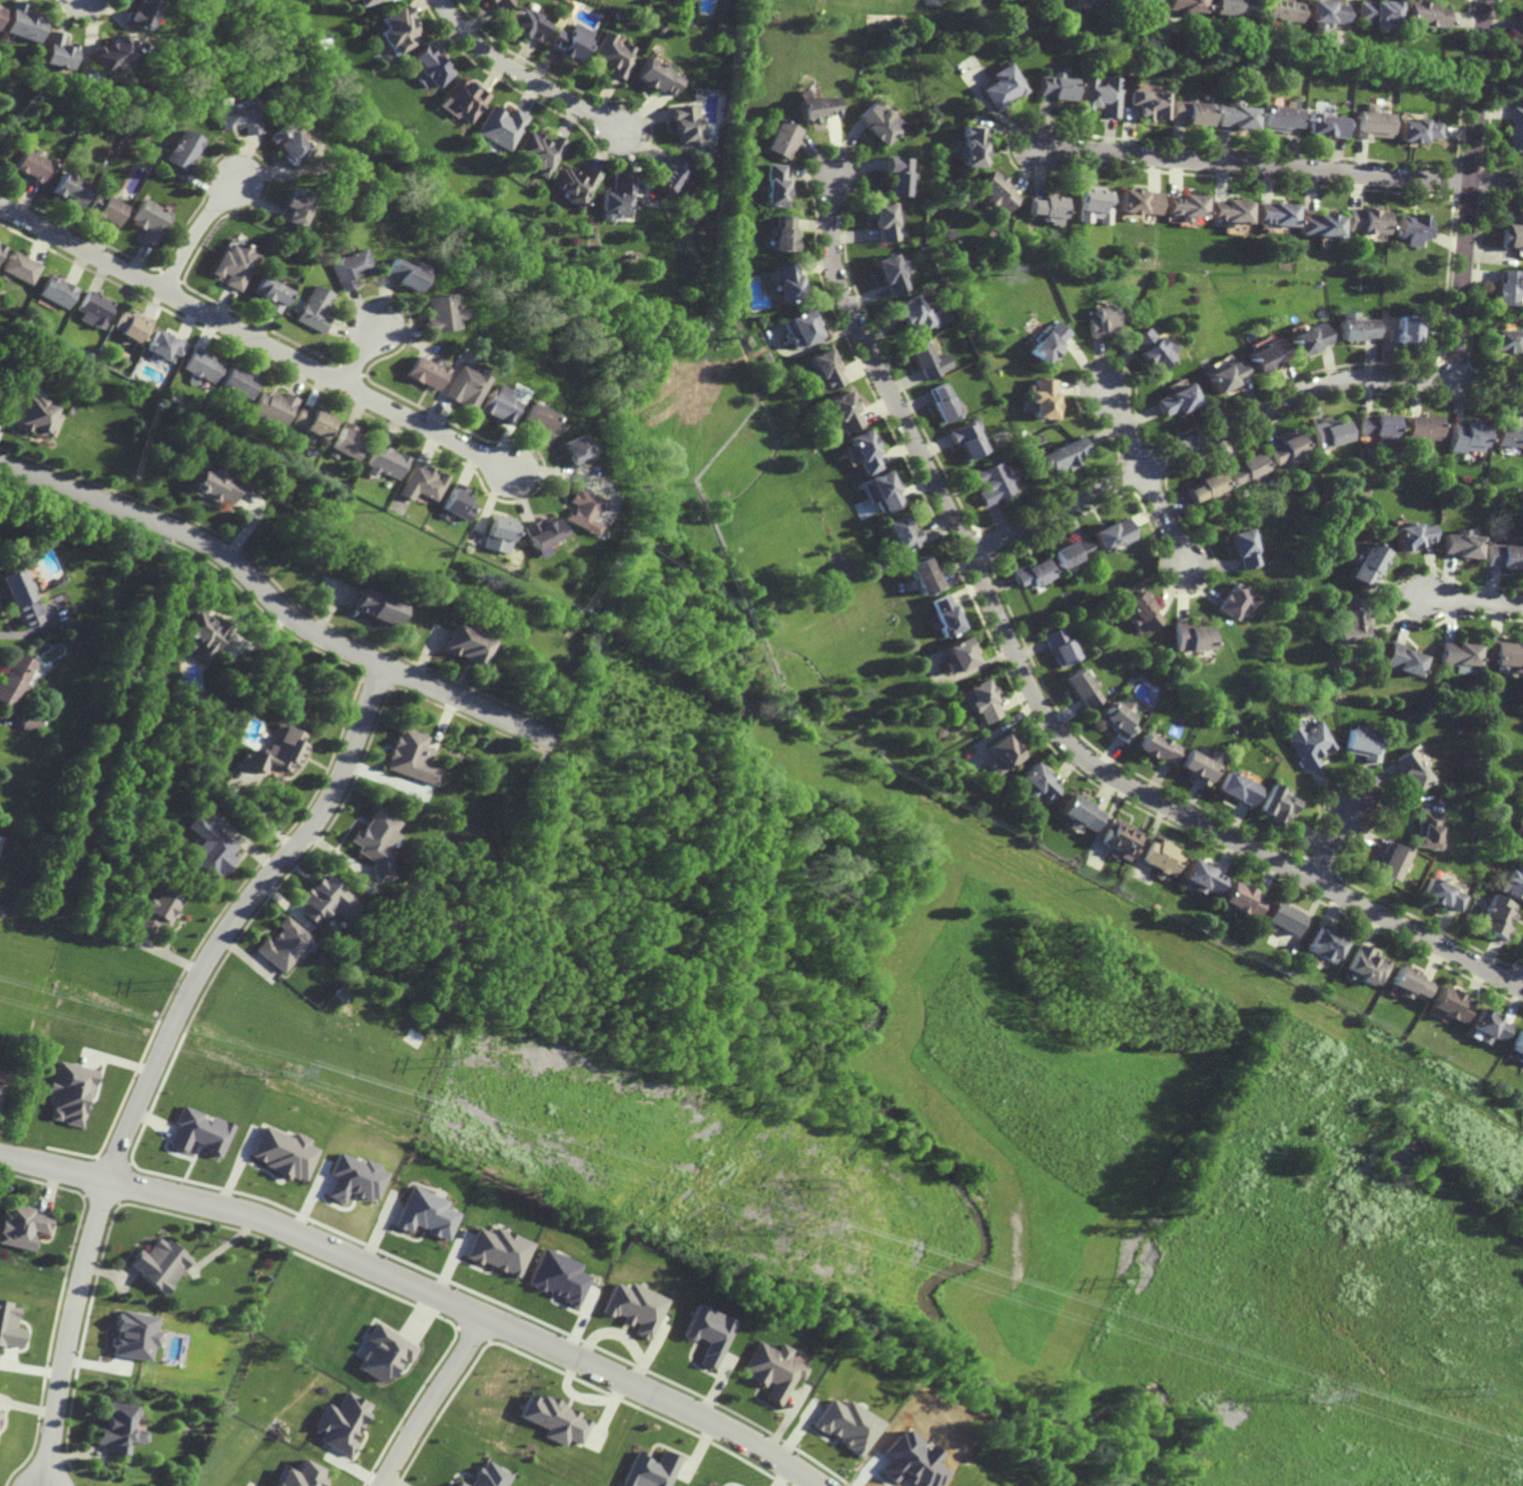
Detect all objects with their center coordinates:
building: (348, 0)
building: (486, 0)
building: (366, 1)
building: (1092, 1)
building: (1136, 2)
building: (498, 3)
building: (1183, 5)
building: (1230, 8)
building: (0, 9)
building: (1279, 10)
building: (1376, 10)
building: (1324, 11)
building: (1422, 13)
building: (139, 14)
building: (617, 14)
building: (524, 22)
building: (21, 23)
building: (1519, 23)
building: (398, 28)
building: (660, 28)
building: (565, 43)
building: (56, 51)
building: (111, 53)
building: (611, 55)
building: (429, 66)
road: (520, 74)
building: (655, 76)
building: (1003, 85)
building: (1057, 85)
building: (1102, 94)
building: (463, 99)
building: (1149, 103)
building: (812, 105)
building: (1190, 111)
building: (237, 116)
building: (1234, 116)
building: (1278, 117)
building: (876, 121)
building: (685, 122)
building: (1371, 122)
building: (1325, 125)
building: (499, 126)
building: (1514, 128)
building: (1415, 130)
building: (779, 138)
building: (286, 144)
building: (971, 145)
building: (184, 150)
building: (538, 152)
building: (30, 166)
road: (1279, 166)
building: (670, 174)
building: (898, 175)
building: (573, 185)
building: (771, 185)
building: (69, 189)
road: (1467, 191)
building: (992, 194)
building: (1091, 198)
building: (614, 201)
building: (1134, 202)
building: (1181, 205)
building: (293, 207)
building: (105, 208)
building: (1046, 209)
building: (1226, 212)
building: (1271, 214)
building: (150, 220)
building: (884, 221)
building: (1363, 221)
building: (1317, 226)
building: (1408, 229)
road: (196, 230)
building: (780, 233)
building: (1510, 237)
building: (1, 247)
building: (19, 267)
building: (236, 267)
building: (347, 268)
building: (401, 274)
building: (889, 274)
building: (784, 283)
building: (1503, 289)
building: (56, 291)
building: (270, 294)
building: (315, 309)
building: (93, 310)
building: (437, 313)
building: (912, 315)
building: (1100, 322)
building: (134, 326)
building: (937, 327)
building: (1354, 328)
building: (799, 330)
building: (1405, 331)
road: (255, 337)
building: (1306, 340)
building: (1504, 342)
building: (1046, 343)
building: (165, 345)
building: (1147, 350)
road: (360, 357)
building: (1264, 357)
building: (927, 362)
building: (204, 365)
building: (822, 370)
building: (422, 372)
building: (1223, 376)
building: (240, 383)
building: (465, 386)
building: (1041, 400)
building: (1171, 402)
building: (497, 404)
building: (943, 404)
building: (275, 408)
building: (34, 414)
building: (841, 414)
building: (534, 418)
building: (312, 422)
road: (1234, 423)
building: (1379, 429)
road: (1121, 430)
building: (1422, 430)
building: (1329, 435)
building: (1507, 438)
building: (1466, 439)
building: (966, 441)
building: (348, 444)
building: (572, 449)
building: (1286, 451)
building: (860, 453)
building: (1060, 458)
building: (1420, 460)
building: (386, 461)
building: (1244, 471)
building: (420, 483)
building: (992, 485)
building: (214, 486)
building: (1204, 489)
building: (880, 495)
building: (456, 503)
building: (582, 510)
road: (1163, 518)
building: (1112, 531)
building: (498, 533)
building: (898, 534)
building: (542, 535)
building: (1409, 540)
building: (880, 548)
building: (1074, 549)
building: (1243, 549)
building: (1457, 549)
building: (1503, 556)
building: (1366, 565)
building: (1033, 569)
building: (925, 570)
building: (1236, 597)
building: (20, 598)
road: (1470, 599)
road: (274, 601)
building: (376, 606)
building: (1144, 606)
building: (946, 612)
building: (1351, 619)
building: (205, 634)
building: (1195, 634)
building: (465, 645)
building: (1062, 645)
building: (1502, 649)
building: (1455, 651)
building: (959, 652)
building: (1399, 657)
building: (14, 679)
building: (1085, 685)
building: (1298, 690)
building: (980, 698)
road: (1036, 699)
building: (1120, 720)
building: (29, 722)
building: (1307, 740)
building: (1363, 743)
building: (1160, 745)
building: (278, 750)
building: (1002, 752)
building: (410, 757)
building: (1201, 763)
building: (1412, 768)
building: (1036, 780)
building: (1235, 787)
building: (1275, 803)
building: (1081, 811)
building: (1427, 829)
building: (1519, 835)
building: (1122, 837)
road: (1330, 842)
building: (376, 843)
building: (209, 849)
building: (1161, 855)
building: (1389, 861)
building: (1199, 876)
building: (1467, 876)
building: (1512, 881)
building: (1483, 891)
building: (1441, 894)
building: (1480, 896)
building: (326, 899)
building: (1239, 899)
building: (1496, 917)
building: (1282, 918)
building: (1322, 944)
building: (285, 945)
building: (1363, 966)
power tower: (163, 979)
building: (1407, 984)
road: (1522, 986)
building: (1449, 1006)
building: (1484, 1027)
building: (1516, 1047)
road: (160, 1052)
power tower: (439, 1062)
power tower: (289, 1071)
building: (1, 1073)
building: (70, 1092)
building: (199, 1131)
building: (282, 1153)
building: (1399, 1155)
building: (351, 1178)
power tower: (823, 1182)
building: (423, 1214)
building: (22, 1226)
power tower: (804, 1229)
building: (495, 1250)
building: (157, 1264)
building: (553, 1277)
power tower: (1133, 1283)
road: (421, 1289)
building: (632, 1308)
building: (11, 1326)
building: (706, 1333)
building: (134, 1335)
building: (382, 1353)
building: (772, 1370)
power tower: (1478, 1389)
power tower: (1321, 1395)
road: (430, 1400)
building: (0, 1415)
building: (555, 1419)
building: (340, 1423)
building: (845, 1425)
building: (118, 1428)
building: (652, 1470)
building: (300, 1475)
building: (489, 1476)
building: (458, 1484)
building: (711, 1485)

